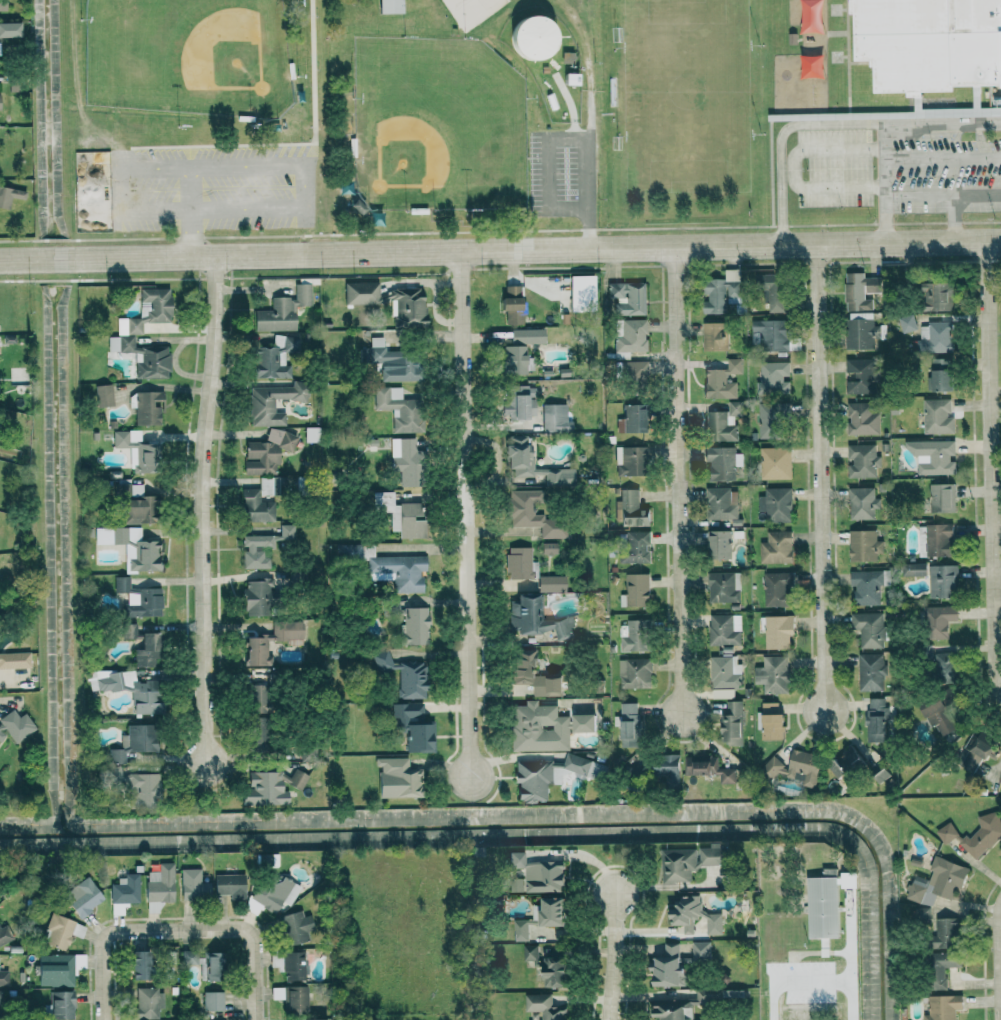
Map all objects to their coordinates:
building: (2, 5)
building: (389, 6)
building: (9, 30)
building: (532, 39)
building: (928, 43)
park: (200, 56)
park: (685, 96)
park: (441, 104)
road: (942, 123)
park: (437, 125)
road: (781, 137)
road: (291, 144)
road: (941, 156)
road: (197, 163)
road: (154, 164)
road: (585, 169)
road: (792, 171)
road: (882, 183)
road: (942, 196)
building: (9, 197)
building: (356, 208)
road: (208, 216)
road: (952, 219)
road: (500, 251)
building: (769, 290)
building: (861, 291)
building: (721, 292)
building: (360, 293)
building: (581, 293)
building: (935, 296)
building: (627, 298)
building: (512, 305)
building: (408, 307)
building: (282, 311)
building: (906, 323)
building: (128, 328)
building: (861, 332)
building: (771, 335)
building: (714, 337)
building: (630, 338)
building: (935, 338)
building: (514, 360)
building: (390, 361)
building: (270, 363)
building: (633, 373)
building: (939, 375)
building: (773, 377)
building: (865, 377)
building: (721, 381)
building: (103, 396)
building: (272, 403)
building: (520, 404)
building: (147, 408)
building: (398, 409)
building: (732, 410)
building: (937, 416)
building: (554, 418)
building: (631, 420)
building: (770, 420)
building: (861, 420)
building: (718, 427)
building: (311, 435)
building: (517, 452)
building: (266, 453)
road: (993, 456)
building: (934, 458)
building: (407, 461)
building: (630, 461)
building: (861, 461)
building: (721, 463)
building: (774, 463)
road: (821, 477)
road: (679, 483)
building: (941, 498)
building: (719, 503)
building: (861, 503)
building: (133, 504)
building: (775, 504)
road: (202, 507)
building: (255, 507)
building: (630, 510)
building: (531, 513)
road: (466, 514)
building: (401, 515)
building: (286, 531)
building: (942, 539)
building: (719, 544)
building: (863, 545)
building: (131, 546)
building: (633, 547)
building: (776, 547)
building: (548, 548)
building: (255, 551)
building: (519, 563)
building: (387, 566)
building: (913, 569)
building: (941, 581)
building: (551, 584)
building: (722, 587)
building: (865, 587)
building: (776, 589)
building: (635, 590)
building: (256, 597)
building: (138, 599)
building: (535, 619)
building: (937, 620)
building: (413, 626)
building: (723, 629)
building: (867, 629)
building: (128, 630)
building: (777, 631)
building: (632, 636)
building: (146, 651)
building: (926, 651)
building: (256, 652)
building: (14, 660)
building: (945, 665)
building: (633, 672)
building: (870, 672)
building: (532, 674)
building: (724, 674)
building: (771, 674)
building: (402, 675)
building: (125, 688)
building: (255, 698)
building: (938, 713)
building: (876, 720)
building: (771, 721)
building: (583, 722)
building: (628, 723)
building: (731, 723)
building: (16, 725)
building: (537, 728)
building: (413, 730)
building: (0, 731)
building: (257, 732)
building: (133, 741)
building: (976, 751)
building: (846, 764)
building: (583, 766)
building: (795, 767)
building: (710, 768)
building: (666, 769)
building: (397, 778)
building: (297, 779)
building: (533, 780)
building: (134, 786)
building: (264, 789)
building: (1000, 815)
building: (975, 834)
building: (711, 854)
building: (263, 860)
building: (678, 865)
building: (535, 875)
building: (937, 882)
building: (192, 885)
building: (228, 885)
building: (158, 887)
building: (123, 893)
building: (271, 894)
building: (82, 897)
building: (825, 901)
building: (550, 911)
building: (693, 915)
building: (922, 917)
building: (295, 928)
building: (519, 930)
building: (61, 932)
building: (944, 934)
building: (4, 935)
road: (255, 938)
road: (103, 940)
building: (529, 952)
building: (700, 952)
road: (999, 952)
road: (612, 958)
building: (204, 963)
building: (138, 964)
building: (289, 964)
building: (667, 968)
building: (940, 968)
building: (58, 969)
building: (553, 972)
building: (3, 978)
road: (812, 980)
building: (731, 994)
building: (296, 998)
building: (212, 1001)
building: (147, 1003)
building: (61, 1005)
building: (542, 1007)
building: (942, 1007)
building: (672, 1009)
building: (314, 1019)

